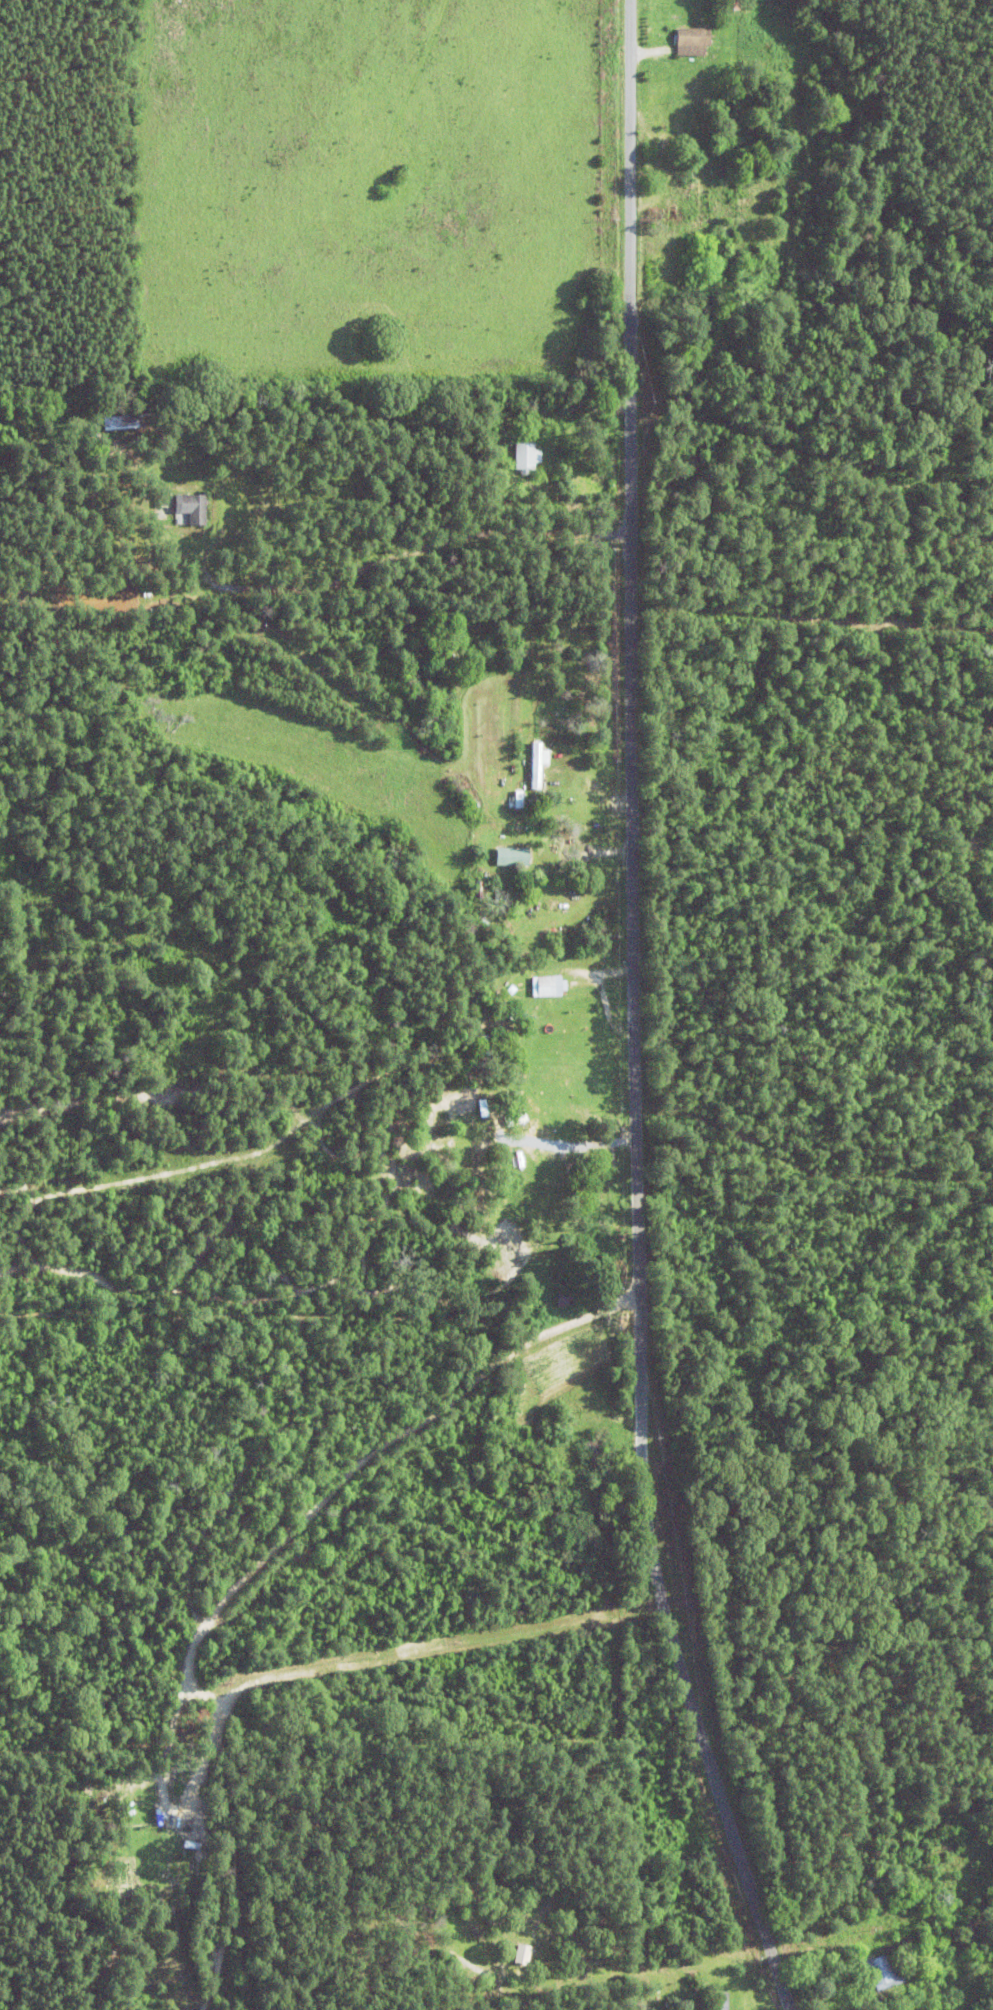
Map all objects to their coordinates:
building: (684, 42)
building: (696, 194)
building: (533, 406)
building: (525, 457)
building: (198, 508)
building: (533, 765)
building: (507, 857)
building: (547, 986)
road: (630, 1017)
building: (471, 1096)
building: (539, 1147)
building: (582, 1449)
road: (299, 1542)
building: (513, 1955)
building: (882, 1972)
building: (713, 2000)

